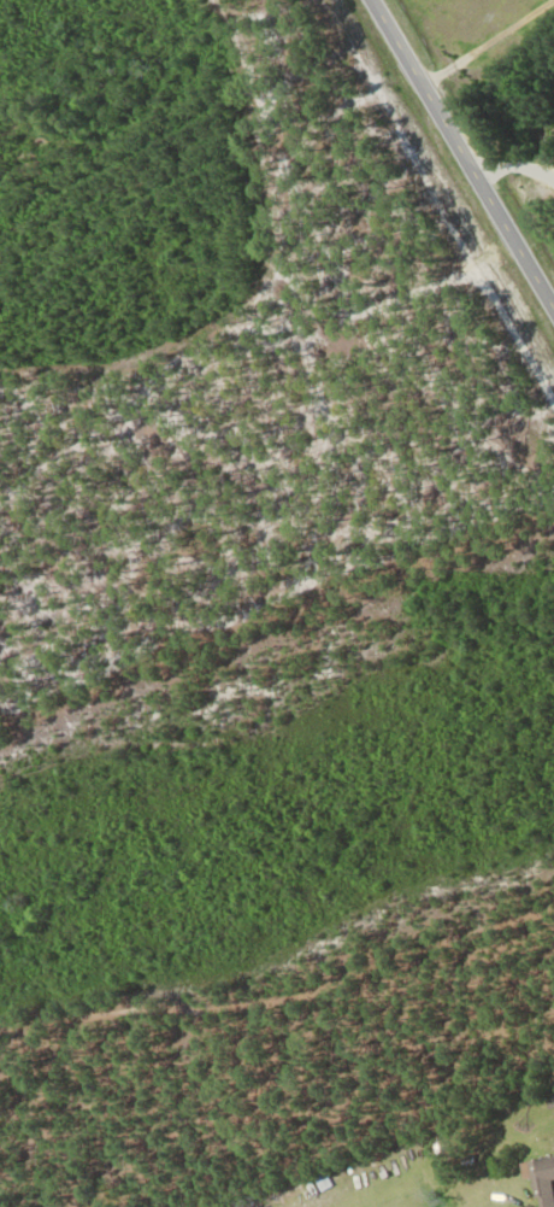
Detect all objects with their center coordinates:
road: (461, 157)
road: (553, 309)
road: (282, 965)
building: (542, 1179)

